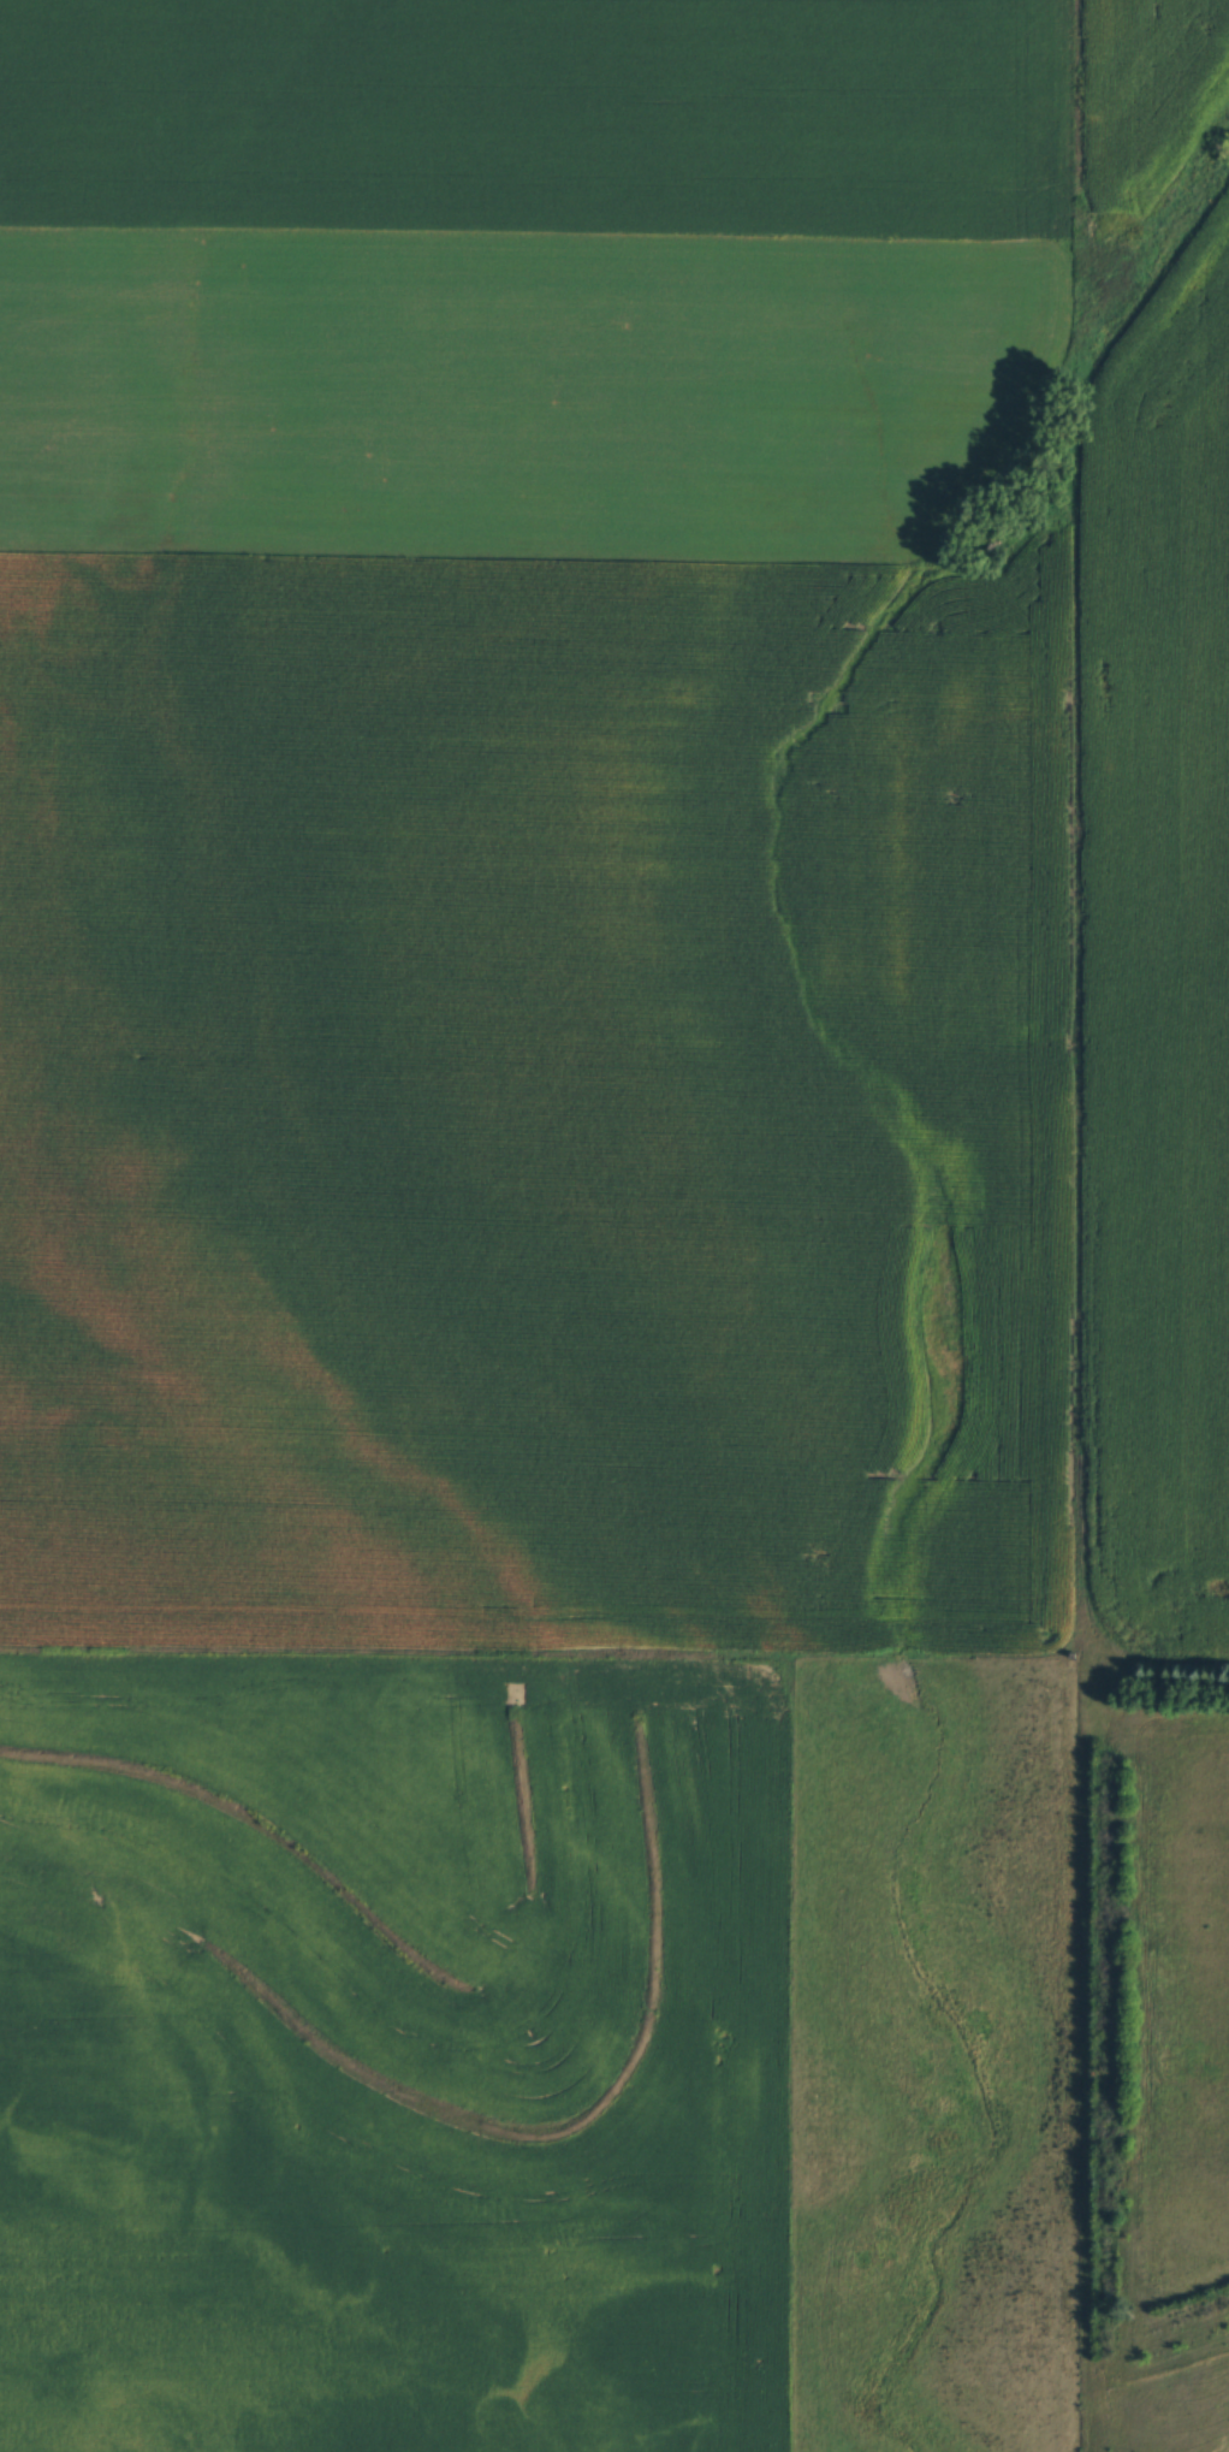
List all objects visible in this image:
crop: (533, 1102)

